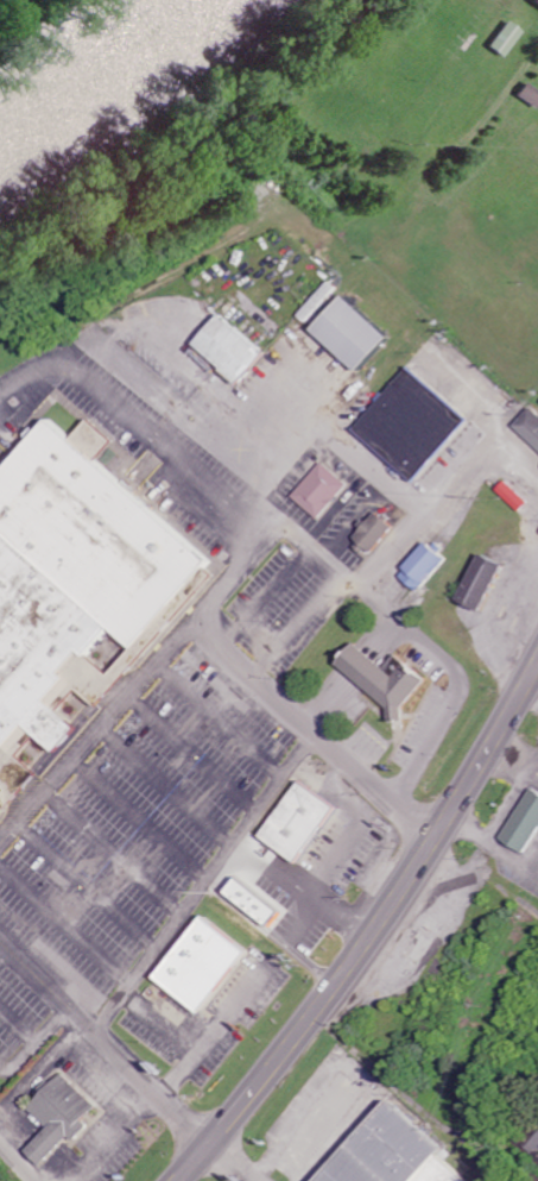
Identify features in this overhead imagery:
building: (508, 39)
river: (82, 58)
building: (531, 95)
building: (359, 333)
building: (238, 350)
building: (416, 425)
building: (531, 426)
building: (323, 491)
building: (376, 533)
road: (319, 553)
building: (426, 567)
building: (486, 582)
building: (82, 603)
building: (388, 679)
road: (144, 691)
road: (296, 716)
building: (305, 822)
building: (526, 825)
road: (210, 890)
building: (261, 902)
road: (374, 930)
building: (210, 965)
road: (194, 1041)
road: (103, 1042)
building: (331, 1113)
building: (67, 1118)
road: (119, 1137)
building: (536, 1141)
building: (398, 1156)
road: (18, 1160)

